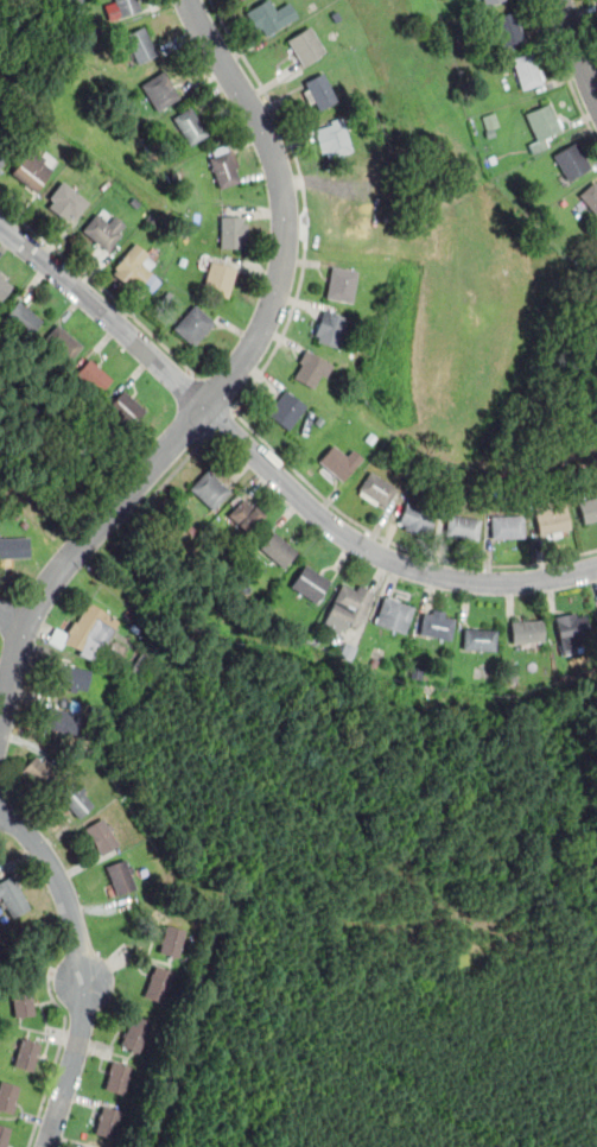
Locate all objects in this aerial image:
building: (489, 1)
building: (127, 6)
building: (269, 15)
building: (508, 27)
building: (140, 44)
building: (305, 45)
road: (579, 50)
building: (528, 69)
road: (566, 71)
building: (159, 90)
building: (318, 91)
building: (490, 120)
building: (190, 125)
building: (542, 126)
building: (332, 139)
building: (5, 147)
building: (571, 160)
building: (224, 166)
building: (31, 169)
building: (590, 196)
building: (66, 202)
road: (284, 202)
road: (305, 203)
building: (102, 228)
building: (233, 232)
building: (135, 267)
building: (218, 278)
building: (342, 284)
building: (4, 286)
road: (100, 287)
road: (106, 312)
building: (24, 317)
building: (193, 324)
building: (330, 328)
building: (63, 342)
building: (310, 368)
building: (93, 375)
road: (211, 393)
building: (126, 408)
building: (286, 408)
road: (220, 423)
building: (339, 461)
road: (170, 477)
building: (210, 488)
building: (377, 488)
building: (588, 508)
building: (246, 514)
building: (552, 515)
building: (415, 519)
building: (507, 526)
building: (463, 527)
road: (392, 541)
building: (14, 547)
road: (78, 549)
building: (279, 549)
road: (377, 552)
building: (310, 582)
building: (348, 606)
building: (394, 614)
road: (12, 622)
building: (437, 623)
building: (573, 628)
building: (89, 629)
building: (527, 630)
building: (479, 638)
building: (72, 676)
building: (63, 720)
building: (40, 773)
building: (77, 799)
building: (102, 835)
building: (121, 876)
building: (12, 895)
building: (172, 940)
road: (85, 968)
building: (159, 983)
building: (23, 1000)
building: (135, 1033)
road: (61, 1039)
building: (27, 1053)
building: (118, 1077)
building: (7, 1095)
building: (108, 1121)
building: (4, 1134)

